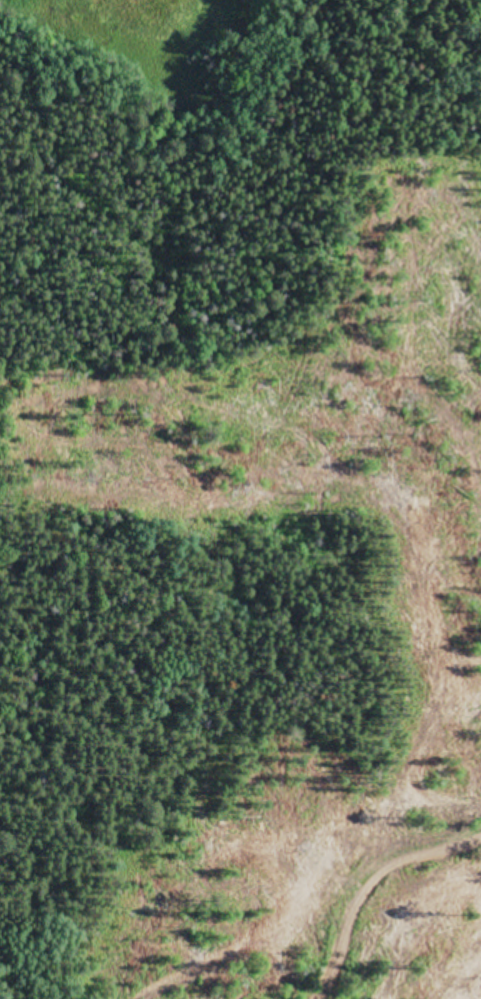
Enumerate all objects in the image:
road: (273, 969)

